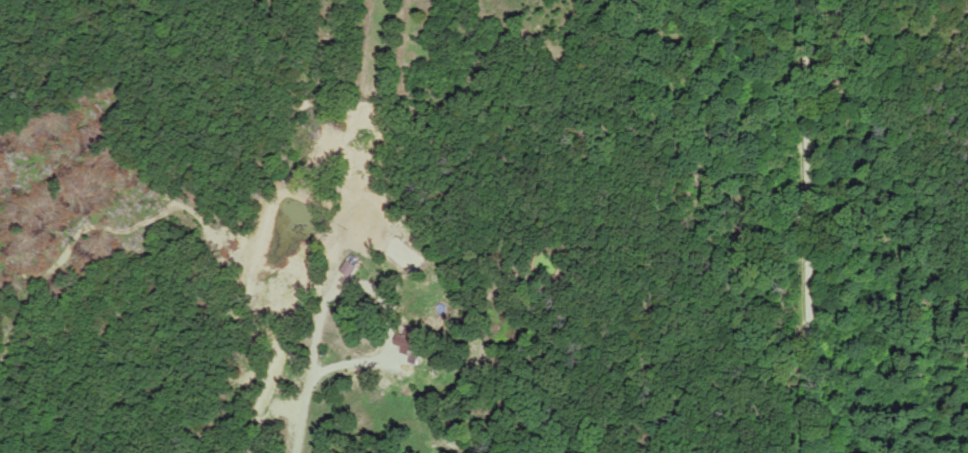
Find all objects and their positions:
road: (804, 226)
building: (349, 270)
building: (413, 342)

